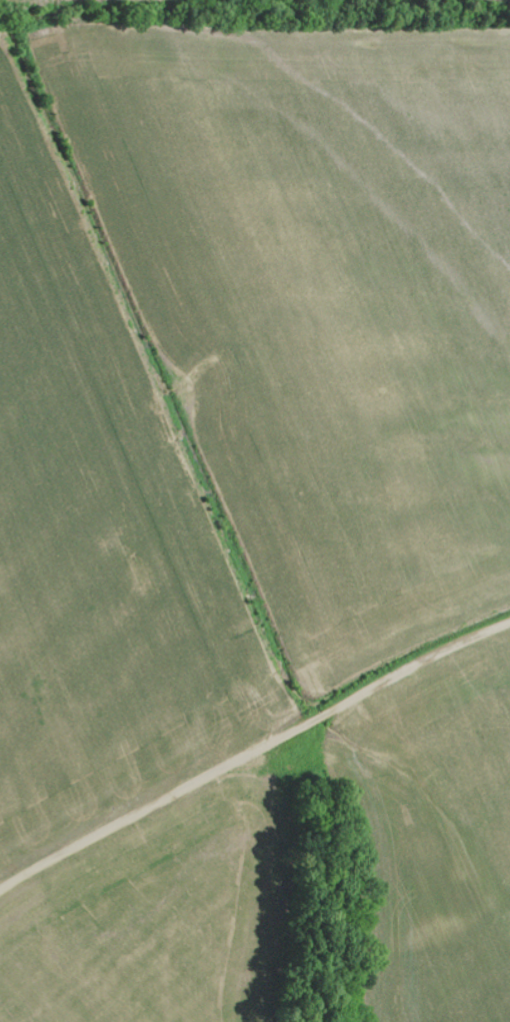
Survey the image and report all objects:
road: (253, 751)

